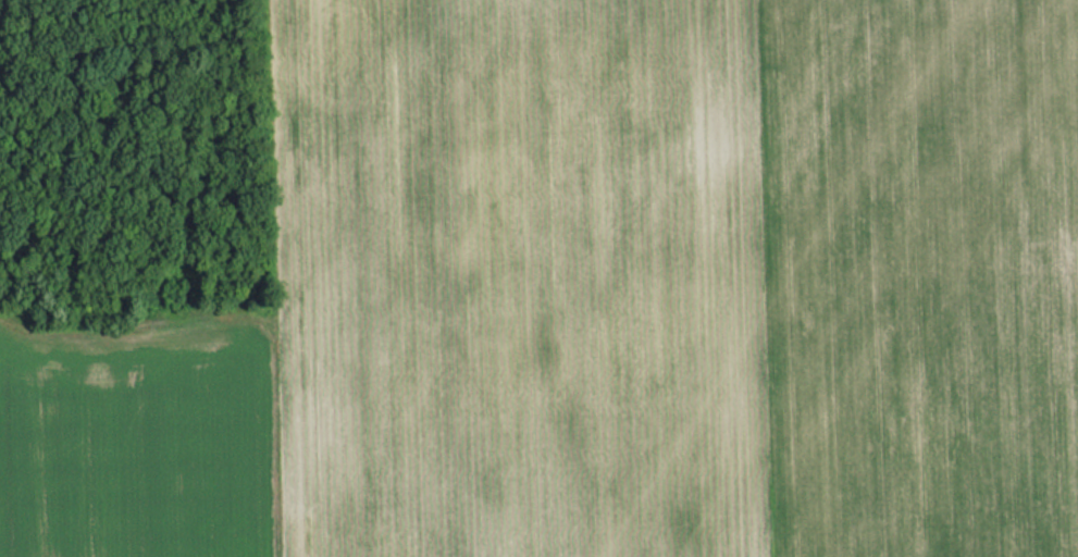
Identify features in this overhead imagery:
crop: (918, 275)
crop: (442, 309)

